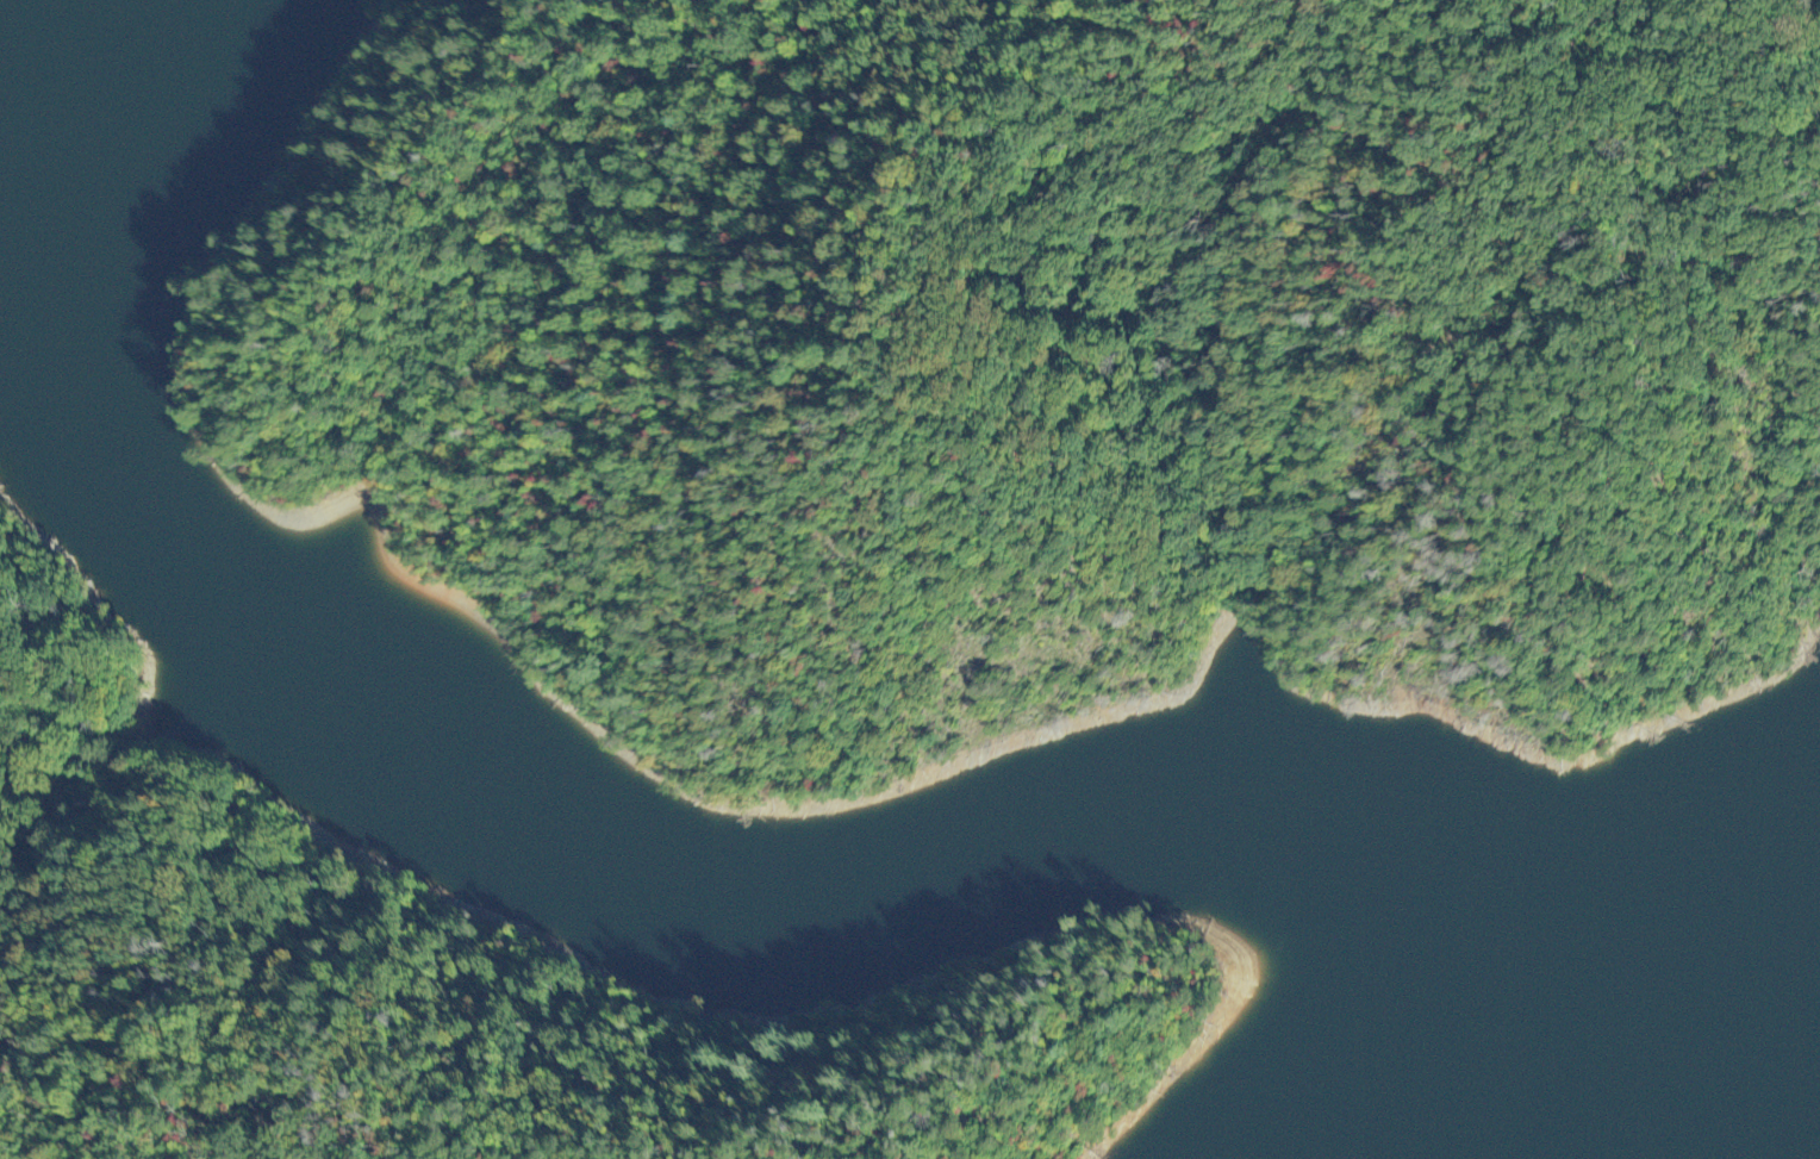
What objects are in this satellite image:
river: (1677, 1059)
river: (1539, 1155)

